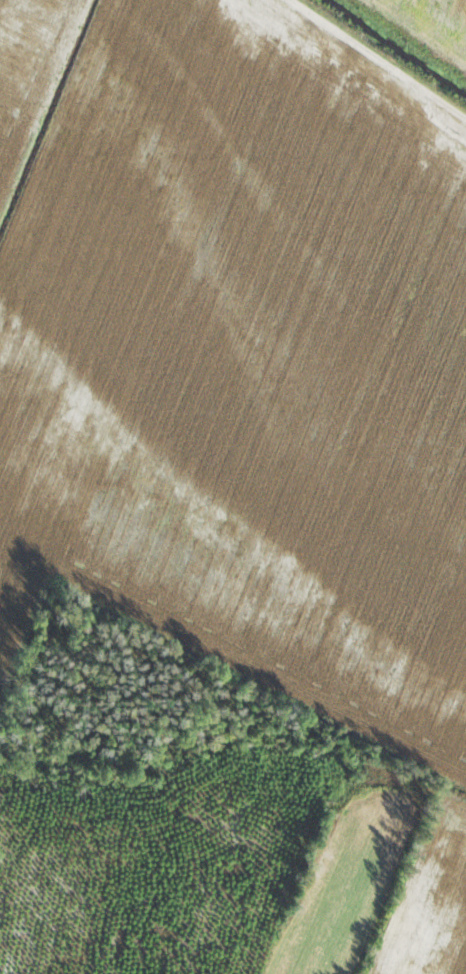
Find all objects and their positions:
road: (375, 63)

